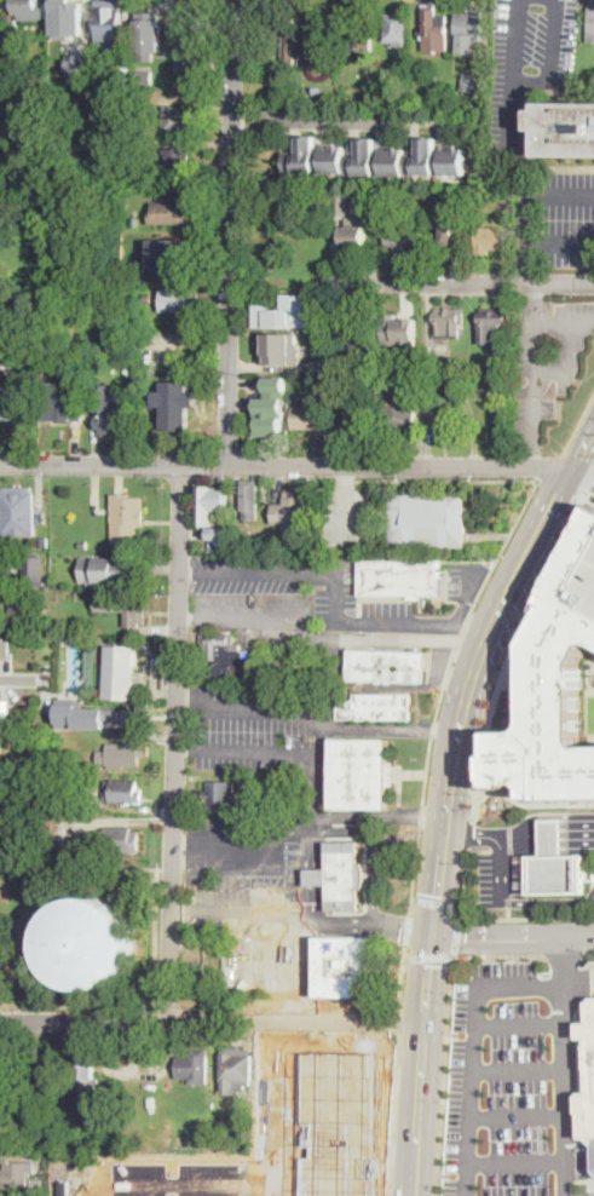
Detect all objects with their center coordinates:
building: (29, 8)
building: (67, 18)
building: (109, 23)
building: (590, 25)
building: (443, 27)
building: (195, 28)
building: (397, 28)
building: (431, 28)
building: (321, 29)
building: (284, 30)
building: (469, 30)
building: (13, 31)
building: (362, 33)
building: (148, 34)
parking lot: (527, 59)
building: (77, 63)
building: (189, 64)
building: (144, 74)
building: (132, 77)
road: (532, 81)
building: (469, 84)
building: (318, 90)
building: (305, 96)
building: (429, 96)
road: (342, 116)
building: (177, 119)
building: (564, 127)
building: (427, 156)
building: (300, 157)
building: (333, 157)
building: (364, 157)
building: (454, 159)
building: (178, 160)
building: (397, 160)
road: (526, 179)
road: (561, 194)
building: (341, 203)
building: (167, 213)
parking lot: (569, 218)
building: (135, 220)
building: (450, 228)
road: (229, 230)
building: (438, 230)
building: (400, 236)
building: (353, 237)
building: (491, 238)
road: (561, 238)
building: (175, 253)
road: (461, 283)
building: (67, 289)
road: (538, 294)
building: (148, 298)
building: (179, 299)
building: (324, 301)
building: (283, 314)
building: (450, 322)
road: (566, 322)
building: (490, 324)
building: (351, 330)
building: (400, 332)
building: (278, 350)
parking lot: (549, 357)
building: (445, 363)
building: (328, 366)
building: (41, 372)
road: (555, 372)
road: (536, 374)
building: (445, 378)
building: (323, 381)
building: (59, 402)
building: (13, 403)
building: (177, 404)
building: (270, 407)
building: (111, 413)
building: (308, 415)
building: (400, 418)
building: (444, 421)
road: (578, 422)
building: (346, 424)
road: (582, 444)
road: (536, 454)
road: (286, 462)
road: (549, 465)
road: (582, 472)
road: (438, 478)
road: (589, 481)
road: (588, 499)
building: (250, 500)
building: (209, 504)
building: (18, 512)
building: (293, 512)
building: (127, 518)
building: (414, 521)
building: (452, 521)
building: (218, 534)
building: (44, 540)
building: (240, 541)
building: (82, 545)
building: (278, 545)
road: (185, 569)
building: (35, 571)
building: (110, 573)
building: (439, 577)
building: (399, 579)
parking lot: (462, 579)
road: (335, 586)
building: (588, 586)
parking garage: (588, 586)
parking lot: (269, 592)
building: (22, 604)
parking lot: (388, 608)
building: (122, 610)
building: (41, 620)
road: (472, 626)
building: (99, 638)
road: (327, 639)
building: (5, 649)
road: (511, 649)
road: (521, 654)
building: (227, 656)
building: (387, 666)
road: (518, 668)
road: (513, 669)
building: (120, 672)
road: (22, 678)
road: (444, 686)
road: (466, 688)
building: (554, 688)
road: (517, 695)
road: (184, 702)
road: (512, 705)
road: (270, 706)
building: (6, 707)
building: (376, 707)
road: (508, 707)
road: (520, 707)
building: (93, 714)
road: (504, 720)
parking lot: (259, 728)
road: (391, 730)
road: (174, 740)
road: (322, 740)
road: (186, 747)
road: (300, 749)
building: (1, 754)
building: (122, 754)
building: (361, 774)
building: (90, 780)
building: (123, 790)
road: (518, 792)
building: (12, 794)
building: (221, 795)
building: (11, 803)
road: (531, 803)
building: (47, 823)
road: (469, 833)
road: (472, 835)
road: (548, 836)
building: (552, 836)
building: (117, 840)
road: (179, 841)
road: (232, 841)
road: (375, 847)
parking lot: (238, 857)
road: (181, 866)
road: (271, 866)
road: (502, 869)
building: (558, 875)
building: (341, 876)
road: (317, 878)
parking lot: (500, 878)
road: (465, 881)
parking lot: (590, 891)
road: (548, 901)
road: (437, 902)
road: (301, 918)
road: (526, 918)
road: (406, 928)
park: (77, 932)
traffic signals: (433, 932)
road: (155, 933)
road: (456, 936)
road: (513, 938)
water tower: (90, 941)
building: (88, 942)
building: (220, 947)
road: (589, 951)
building: (27, 954)
road: (563, 954)
road: (497, 955)
road: (428, 956)
road: (255, 965)
road: (300, 967)
building: (344, 970)
parking lot: (255, 971)
road: (428, 976)
road: (403, 977)
building: (201, 979)
road: (75, 1004)
road: (212, 1018)
road: (398, 1020)
road: (519, 1027)
road: (473, 1046)
road: (563, 1065)
building: (36, 1066)
building: (194, 1066)
building: (235, 1069)
road: (517, 1070)
building: (87, 1073)
road: (444, 1075)
building: (584, 1076)
parking lot: (514, 1082)
building: (4, 1087)
road: (272, 1106)
road: (419, 1108)
road: (393, 1115)
road: (515, 1117)
building: (340, 1123)
building: (219, 1129)
building: (2, 1134)
building: (87, 1144)
road: (515, 1162)
building: (17, 1175)
parking lot: (163, 1179)
road: (169, 1184)

